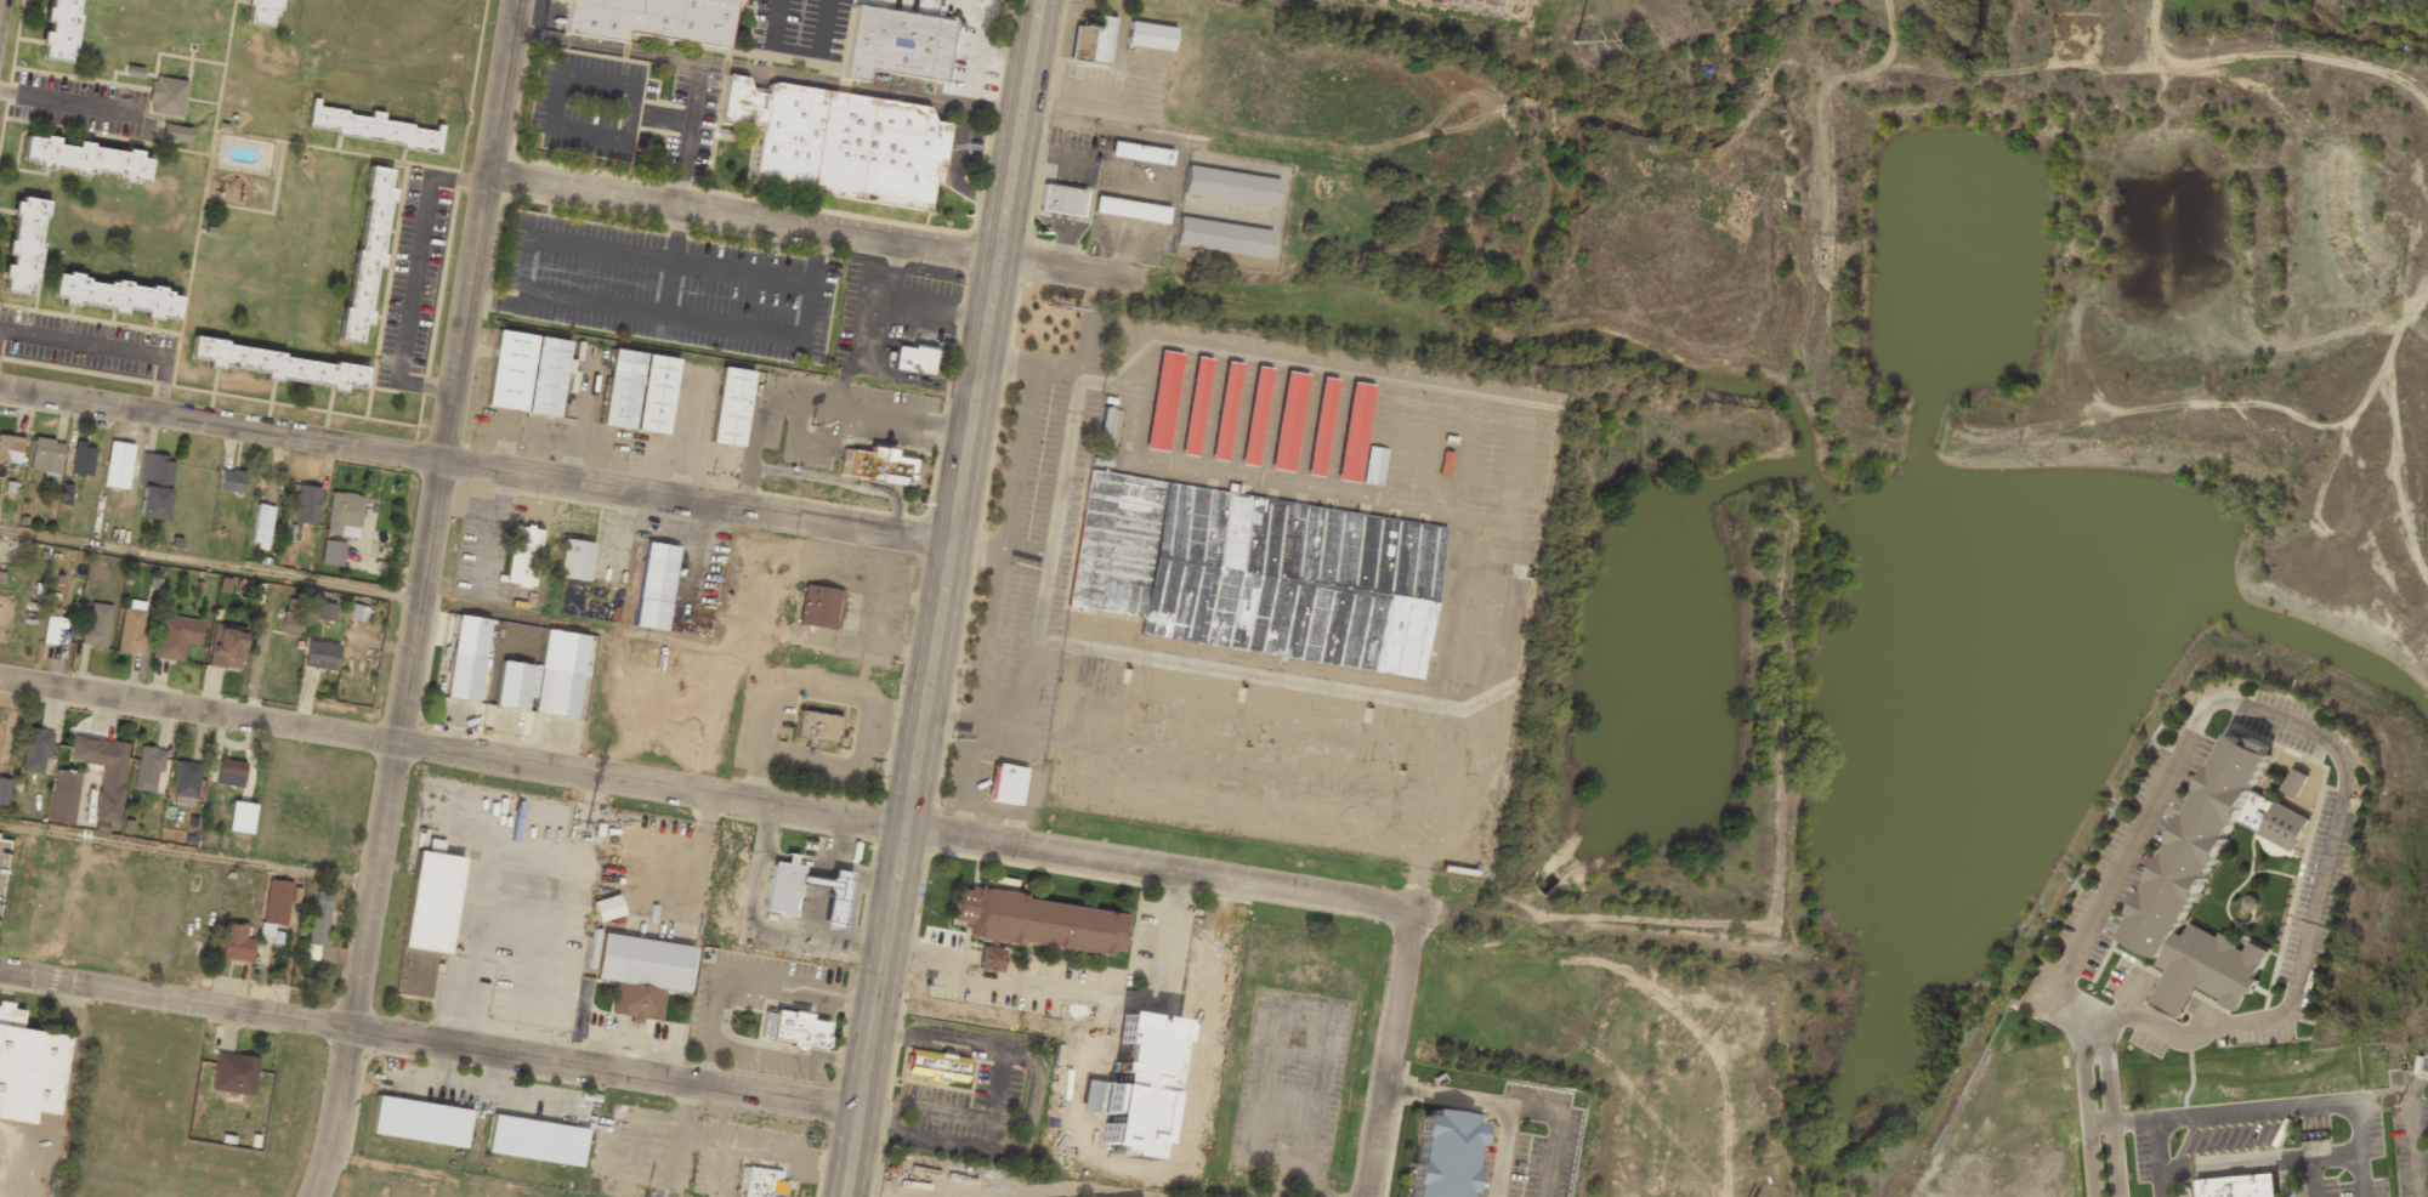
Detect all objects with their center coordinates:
building: (257, 12)
building: (654, 21)
building: (58, 30)
building: (1148, 36)
power tower: (1572, 40)
building: (913, 41)
building: (1093, 41)
building: (165, 96)
building: (370, 129)
building: (175, 132)
building: (836, 143)
building: (1139, 154)
building: (84, 160)
building: (1227, 186)
building: (1059, 202)
building: (1128, 210)
road: (822, 227)
building: (1220, 238)
building: (23, 246)
building: (364, 254)
building: (114, 297)
building: (912, 359)
building: (276, 365)
building: (524, 374)
building: (636, 392)
building: (1161, 401)
building: (728, 407)
building: (1193, 407)
building: (1224, 410)
building: (1253, 415)
building: (1286, 421)
building: (1320, 426)
building: (1352, 432)
building: (10, 448)
building: (46, 459)
building: (83, 459)
building: (117, 465)
road: (475, 466)
building: (877, 466)
building: (1373, 466)
building: (229, 481)
building: (154, 487)
building: (64, 494)
building: (306, 504)
building: (344, 514)
building: (261, 524)
building: (331, 554)
building: (521, 556)
building: (572, 560)
road: (208, 565)
building: (1254, 573)
building: (1, 577)
building: (653, 586)
road: (941, 597)
road: (415, 598)
building: (816, 608)
building: (324, 611)
building: (358, 613)
building: (291, 615)
building: (52, 625)
building: (96, 625)
building: (131, 628)
building: (175, 636)
building: (226, 646)
building: (320, 654)
building: (461, 677)
building: (511, 686)
building: (555, 693)
building: (816, 727)
building: (35, 749)
building: (148, 768)
building: (229, 772)
building: (103, 773)
building: (2294, 782)
building: (185, 783)
building: (1005, 784)
building: (4, 790)
building: (62, 807)
road: (776, 807)
building: (240, 817)
road: (186, 853)
building: (2178, 886)
building: (779, 901)
building: (2250, 902)
building: (606, 908)
building: (274, 909)
building: (317, 923)
building: (425, 923)
building: (1038, 923)
building: (234, 942)
building: (988, 959)
building: (640, 974)
building: (793, 1029)
road: (429, 1042)
road: (1384, 1062)
building: (935, 1066)
building: (27, 1068)
building: (233, 1074)
parking lot: (1289, 1083)
road: (2108, 1117)
building: (419, 1122)
building: (534, 1141)
road: (2361, 1153)
building: (1439, 1155)
road: (2157, 1161)
building: (754, 1182)
building: (2243, 1190)
road: (1280, 1192)

